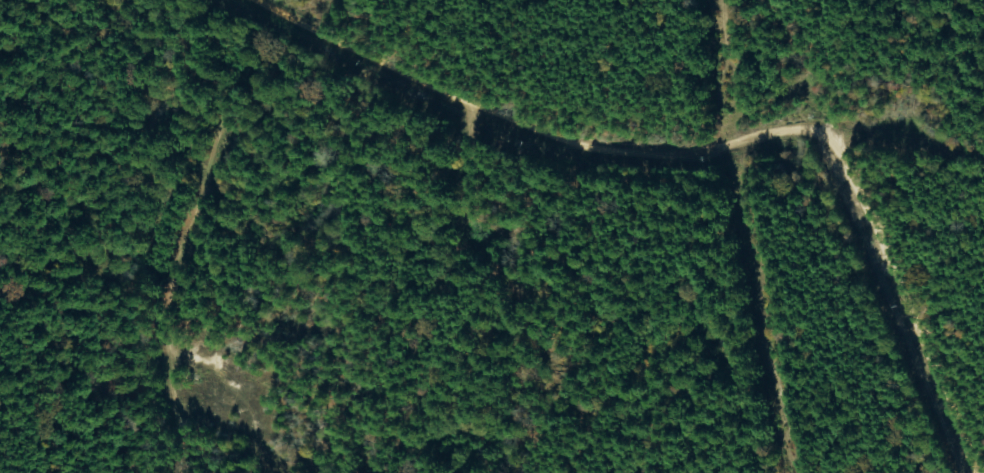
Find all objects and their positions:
road: (664, 112)
road: (165, 242)
road: (915, 313)

